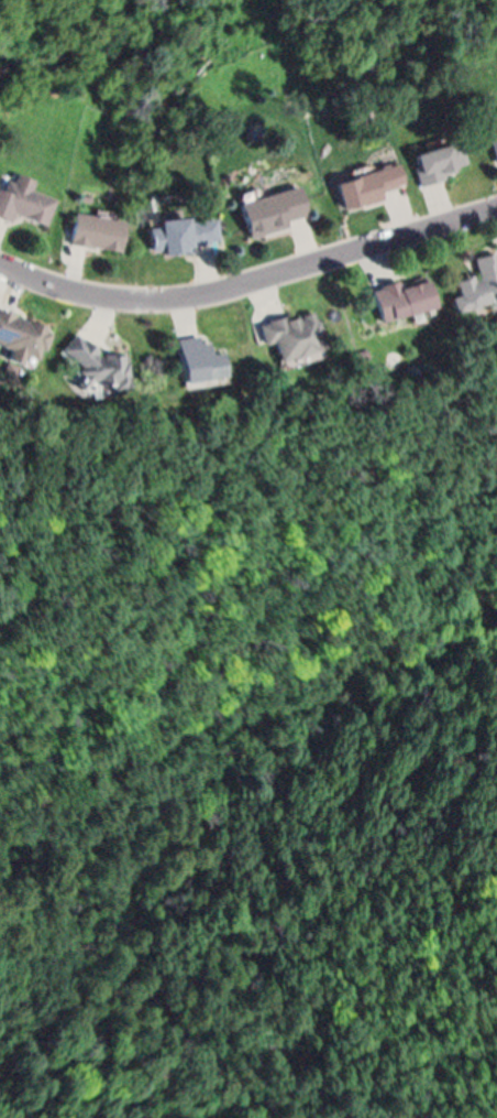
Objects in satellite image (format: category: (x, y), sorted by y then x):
building: (490, 133)
building: (438, 159)
building: (363, 184)
building: (25, 203)
building: (274, 207)
building: (184, 231)
building: (93, 232)
road: (248, 278)
building: (476, 279)
building: (397, 297)
building: (290, 334)
building: (20, 337)
building: (198, 356)
building: (95, 365)

